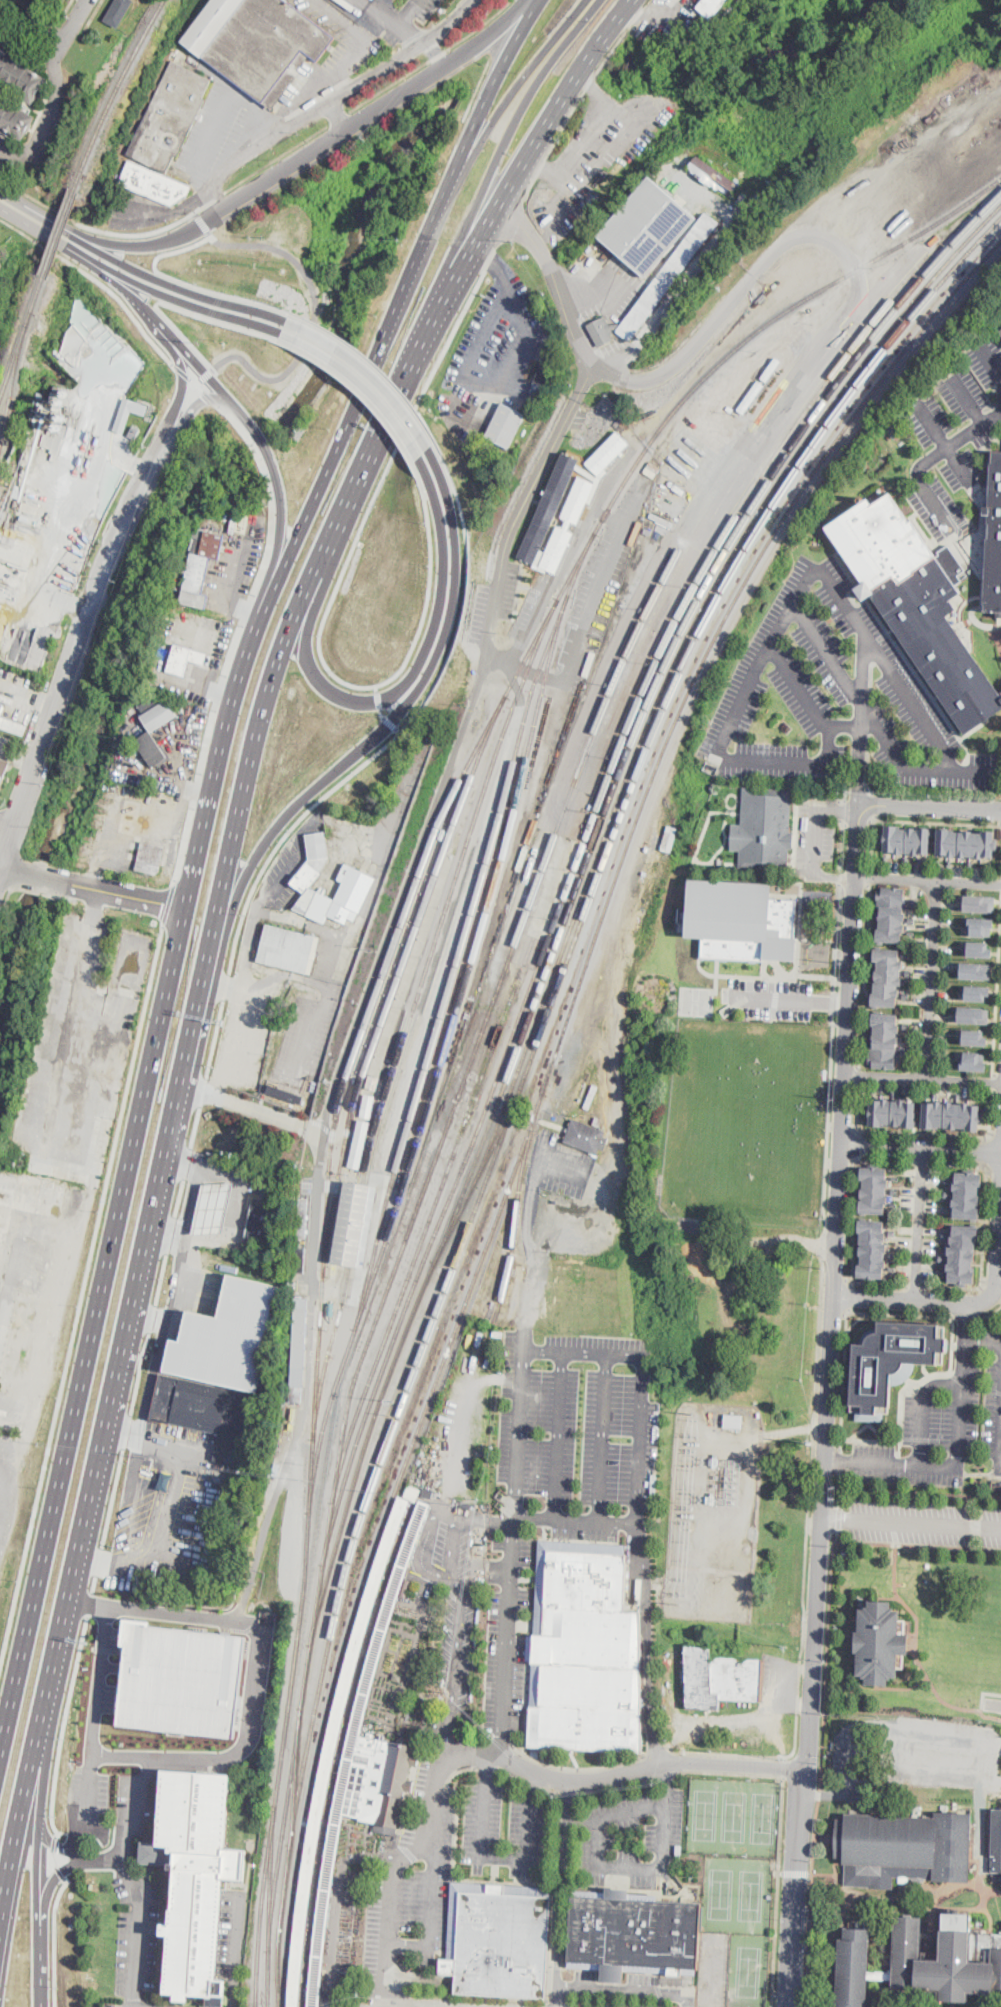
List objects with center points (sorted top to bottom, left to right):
parking lot: (420, 7)
building: (710, 8)
road: (408, 11)
building: (118, 12)
road: (94, 14)
road: (399, 22)
road: (51, 24)
road: (73, 24)
road: (29, 25)
road: (361, 39)
building: (258, 44)
road: (437, 53)
road: (434, 59)
road: (391, 65)
building: (21, 76)
railway: (114, 91)
road: (305, 94)
road: (315, 100)
road: (223, 104)
road: (48, 117)
building: (170, 117)
road: (340, 117)
building: (14, 119)
road: (495, 120)
parking lot: (225, 134)
road: (585, 139)
road: (502, 146)
road: (605, 147)
road: (249, 152)
road: (314, 153)
road: (459, 158)
parking lot: (594, 159)
road: (524, 163)
building: (610, 176)
building: (712, 178)
building: (153, 184)
road: (38, 212)
road: (211, 216)
road: (171, 224)
building: (647, 227)
railway: (59, 233)
road: (47, 234)
road: (696, 268)
road: (110, 277)
road: (96, 279)
road: (186, 282)
road: (179, 287)
building: (655, 287)
road: (184, 301)
road: (143, 305)
road: (173, 305)
road: (316, 312)
road: (523, 316)
building: (86, 317)
building: (1000, 328)
building: (1000, 332)
road: (172, 333)
road: (487, 333)
railway: (21, 338)
road: (382, 344)
road: (694, 346)
building: (544, 355)
parking lot: (491, 356)
road: (368, 360)
road: (991, 362)
road: (365, 368)
road: (737, 372)
road: (204, 376)
road: (183, 377)
road: (354, 379)
road: (350, 382)
building: (541, 383)
road: (195, 384)
railway: (10, 391)
building: (40, 394)
building: (54, 396)
road: (202, 399)
building: (47, 411)
road: (972, 411)
building: (129, 413)
building: (505, 424)
road: (935, 427)
building: (893, 429)
building: (133, 432)
road: (767, 434)
parking lot: (954, 435)
road: (921, 465)
building: (651, 469)
road: (277, 481)
building: (581, 501)
road: (311, 505)
building: (550, 509)
building: (24, 517)
building: (234, 518)
building: (242, 518)
building: (661, 520)
railway: (758, 531)
building: (637, 535)
building: (992, 538)
building: (200, 568)
parking lot: (232, 574)
road: (555, 582)
road: (331, 601)
building: (912, 601)
road: (592, 607)
road: (294, 615)
road: (238, 633)
road: (82, 637)
railway: (679, 654)
building: (184, 659)
road: (411, 674)
road: (870, 681)
road: (863, 684)
building: (165, 691)
parking lot: (19, 693)
road: (378, 696)
parking lot: (831, 697)
road: (28, 698)
road: (404, 705)
building: (1, 706)
road: (381, 712)
road: (924, 715)
road: (868, 716)
road: (390, 724)
building: (12, 726)
road: (852, 726)
road: (457, 743)
building: (153, 749)
road: (895, 752)
road: (867, 761)
road: (737, 762)
road: (859, 765)
building: (3, 769)
railway: (466, 771)
road: (871, 804)
road: (929, 807)
road: (910, 818)
road: (857, 819)
road: (8, 821)
building: (765, 826)
parking lot: (813, 832)
road: (813, 838)
building: (907, 838)
building: (664, 840)
building: (966, 841)
road: (841, 844)
building: (149, 856)
railway: (576, 864)
road: (840, 875)
road: (871, 876)
building: (356, 879)
road: (798, 879)
road: (927, 880)
road: (854, 882)
road: (90, 887)
road: (274, 888)
railway: (577, 893)
building: (891, 896)
railway: (451, 898)
building: (841, 900)
building: (980, 901)
road: (169, 902)
building: (734, 918)
building: (892, 924)
building: (981, 925)
railway: (469, 927)
building: (630, 935)
road: (836, 937)
building: (638, 939)
building: (980, 947)
building: (288, 949)
building: (975, 968)
road: (715, 974)
road: (229, 975)
road: (864, 975)
road: (765, 976)
building: (887, 976)
railway: (398, 979)
road: (930, 979)
building: (976, 991)
road: (766, 996)
parking lot: (769, 996)
park: (696, 1000)
road: (828, 1000)
road: (996, 1000)
road: (833, 1001)
building: (973, 1013)
park: (741, 1023)
building: (974, 1035)
parking lot: (310, 1036)
building: (885, 1040)
railway: (443, 1052)
building: (972, 1060)
railway: (469, 1067)
road: (859, 1075)
road: (923, 1077)
road: (992, 1080)
building: (372, 1083)
railway: (547, 1083)
building: (287, 1095)
building: (590, 1095)
building: (367, 1106)
road: (857, 1107)
road: (251, 1108)
building: (891, 1110)
building: (951, 1114)
building: (597, 1121)
road: (828, 1122)
road: (842, 1124)
road: (948, 1134)
road: (84, 1135)
road: (995, 1136)
building: (585, 1137)
road: (858, 1143)
building: (359, 1145)
road: (921, 1148)
road: (988, 1149)
road: (886, 1160)
road: (841, 1161)
road: (922, 1162)
parking lot: (559, 1164)
road: (957, 1164)
road: (994, 1171)
railway: (481, 1172)
building: (269, 1187)
building: (873, 1189)
building: (966, 1195)
road: (118, 1198)
road: (192, 1198)
railway: (436, 1207)
building: (213, 1208)
railway: (517, 1211)
building: (303, 1217)
road: (852, 1219)
building: (260, 1224)
building: (352, 1224)
road: (917, 1224)
railway: (358, 1225)
road: (823, 1246)
road: (533, 1251)
building: (871, 1251)
building: (962, 1255)
road: (984, 1257)
railway: (332, 1260)
building: (299, 1261)
road: (142, 1264)
road: (835, 1277)
road: (878, 1282)
road: (914, 1284)
road: (991, 1294)
road: (848, 1297)
road: (81, 1298)
road: (958, 1303)
building: (332, 1306)
road: (832, 1312)
road: (989, 1313)
road: (963, 1314)
road: (856, 1319)
road: (965, 1321)
road: (163, 1332)
building: (300, 1333)
building: (227, 1337)
railway: (332, 1344)
road: (310, 1350)
railway: (423, 1350)
road: (584, 1351)
building: (892, 1361)
road: (900, 1399)
road: (827, 1405)
road: (922, 1407)
building: (210, 1414)
parking lot: (946, 1419)
building: (733, 1421)
road: (123, 1429)
parking lot: (579, 1433)
road: (520, 1435)
road: (558, 1435)
road: (958, 1435)
road: (603, 1438)
road: (640, 1439)
road: (840, 1444)
road: (899, 1447)
road: (839, 1458)
road: (839, 1460)
road: (4, 1468)
road: (836, 1489)
building: (412, 1492)
road: (810, 1507)
power substation: (715, 1509)
parking lot: (923, 1510)
road: (165, 1515)
road: (839, 1518)
road: (487, 1521)
road: (575, 1521)
road: (911, 1525)
parking lot: (925, 1537)
road: (423, 1544)
road: (917, 1544)
building: (406, 1588)
road: (247, 1590)
road: (88, 1603)
parking lot: (456, 1606)
road: (454, 1615)
road: (509, 1627)
parking lot: (509, 1632)
building: (876, 1642)
road: (647, 1645)
building: (584, 1650)
building: (429, 1657)
building: (432, 1677)
building: (721, 1678)
building: (180, 1679)
road: (255, 1683)
road: (782, 1683)
building: (417, 1686)
road: (993, 1694)
road: (995, 1704)
road: (96, 1713)
road: (63, 1726)
road: (900, 1731)
road: (447, 1734)
road: (944, 1743)
road: (502, 1745)
railway: (297, 1746)
road: (980, 1746)
building: (336, 1750)
road: (657, 1752)
road: (731, 1753)
parking lot: (911, 1754)
road: (806, 1756)
road: (28, 1762)
building: (367, 1762)
road: (819, 1767)
road: (485, 1768)
road: (570, 1769)
road: (504, 1772)
road: (623, 1774)
road: (733, 1774)
road: (666, 1775)
road: (532, 1781)
railway: (279, 1784)
road: (530, 1786)
road: (607, 1789)
parking lot: (89, 1795)
road: (824, 1796)
road: (458, 1814)
railway: (283, 1828)
parking lot: (504, 1830)
road: (36, 1835)
road: (54, 1843)
building: (995, 1844)
road: (57, 1846)
building: (903, 1849)
road: (499, 1855)
road: (54, 1857)
road: (98, 1860)
road: (60, 1870)
road: (795, 1872)
railway: (270, 1875)
road: (396, 1875)
road: (130, 1878)
building: (195, 1878)
road: (51, 1884)
parking lot: (412, 1884)
road: (555, 1886)
railway: (285, 1888)
road: (779, 1891)
road: (432, 1894)
parking lot: (233, 1933)
parking lot: (138, 1934)
road: (53, 1939)
building: (500, 1940)
road: (236, 1952)
building: (922, 1962)
railway: (268, 1967)
railway: (279, 1981)
road: (470, 1995)
road: (557, 2000)
parking lot: (144, 2002)
parking lot: (465, 2003)
road: (618, 2004)

